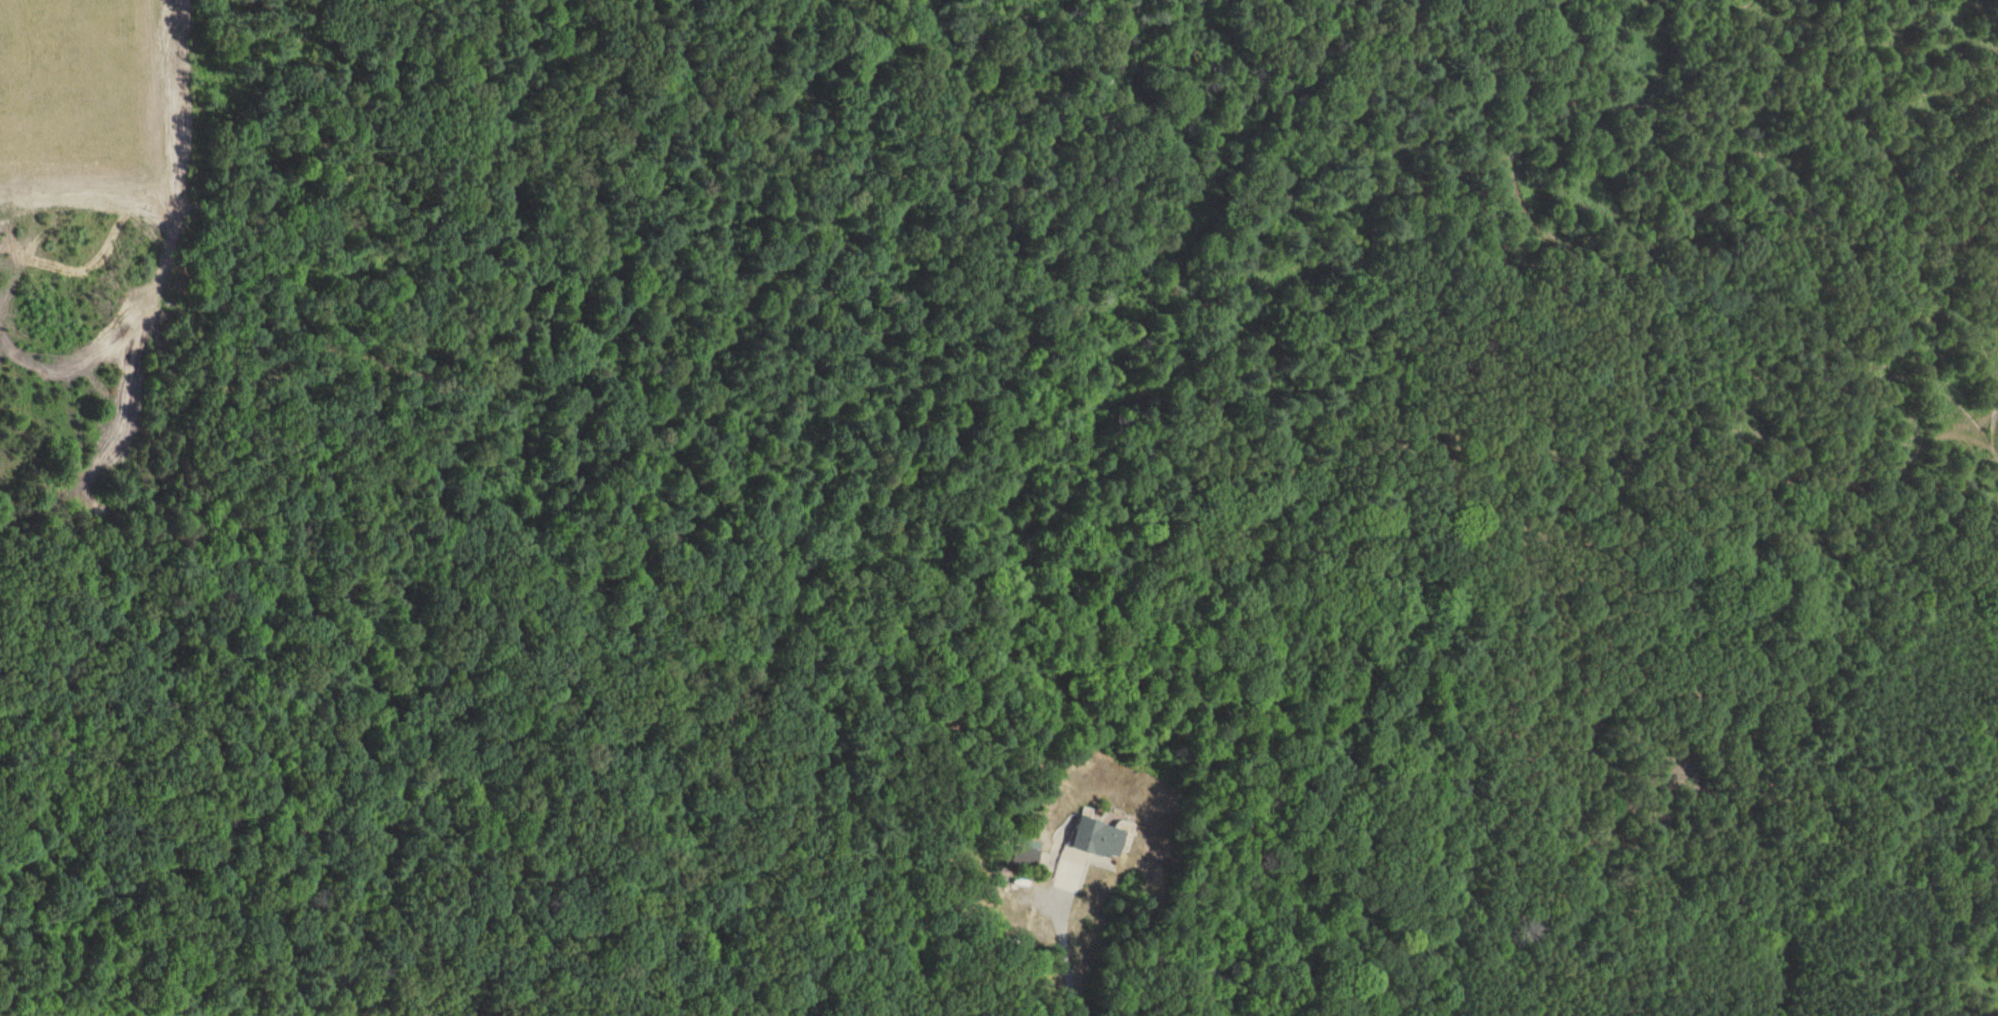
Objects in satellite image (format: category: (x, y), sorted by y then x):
building: (1093, 837)
road: (1064, 969)

